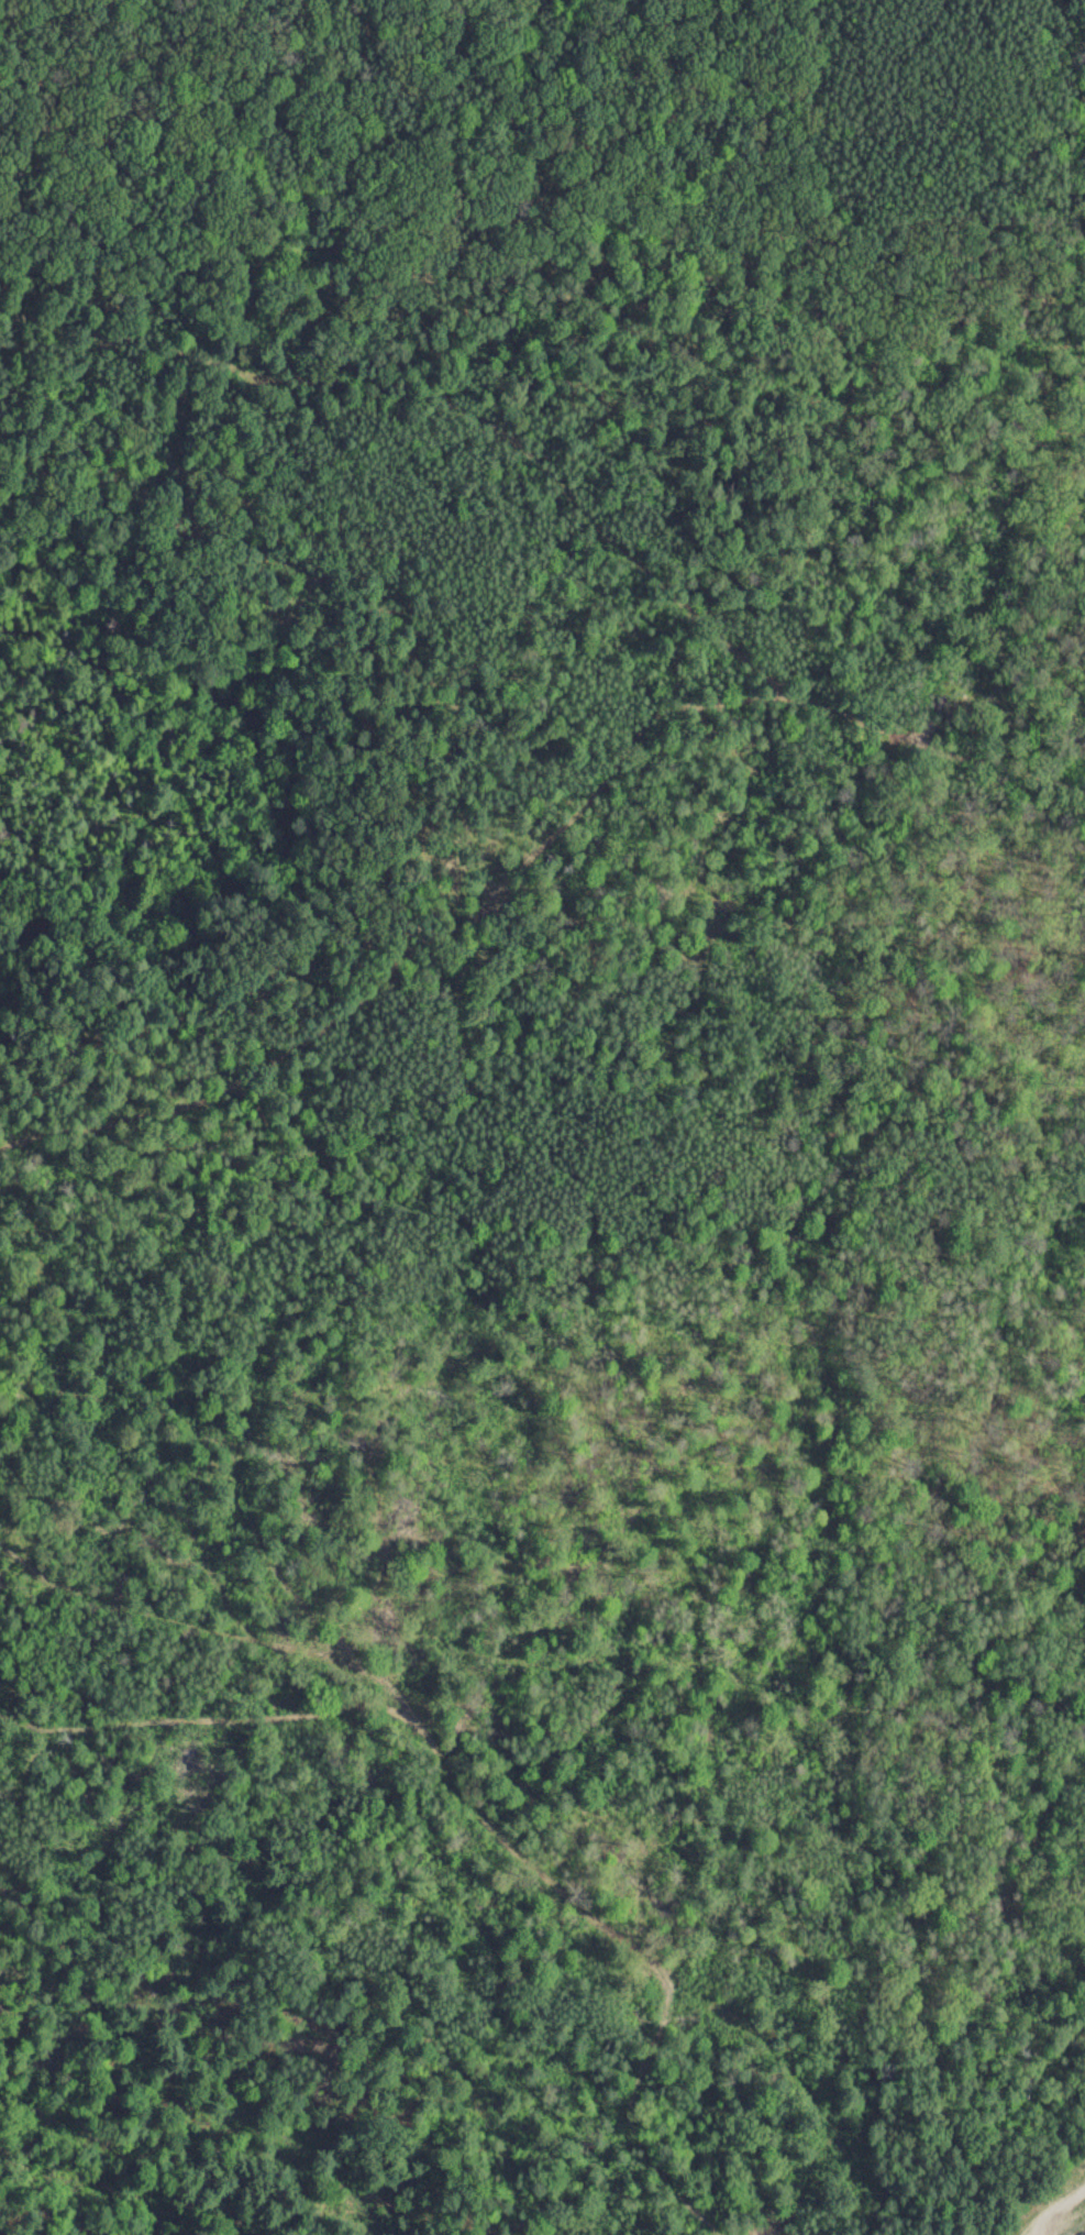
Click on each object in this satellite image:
road: (1036, 2198)

